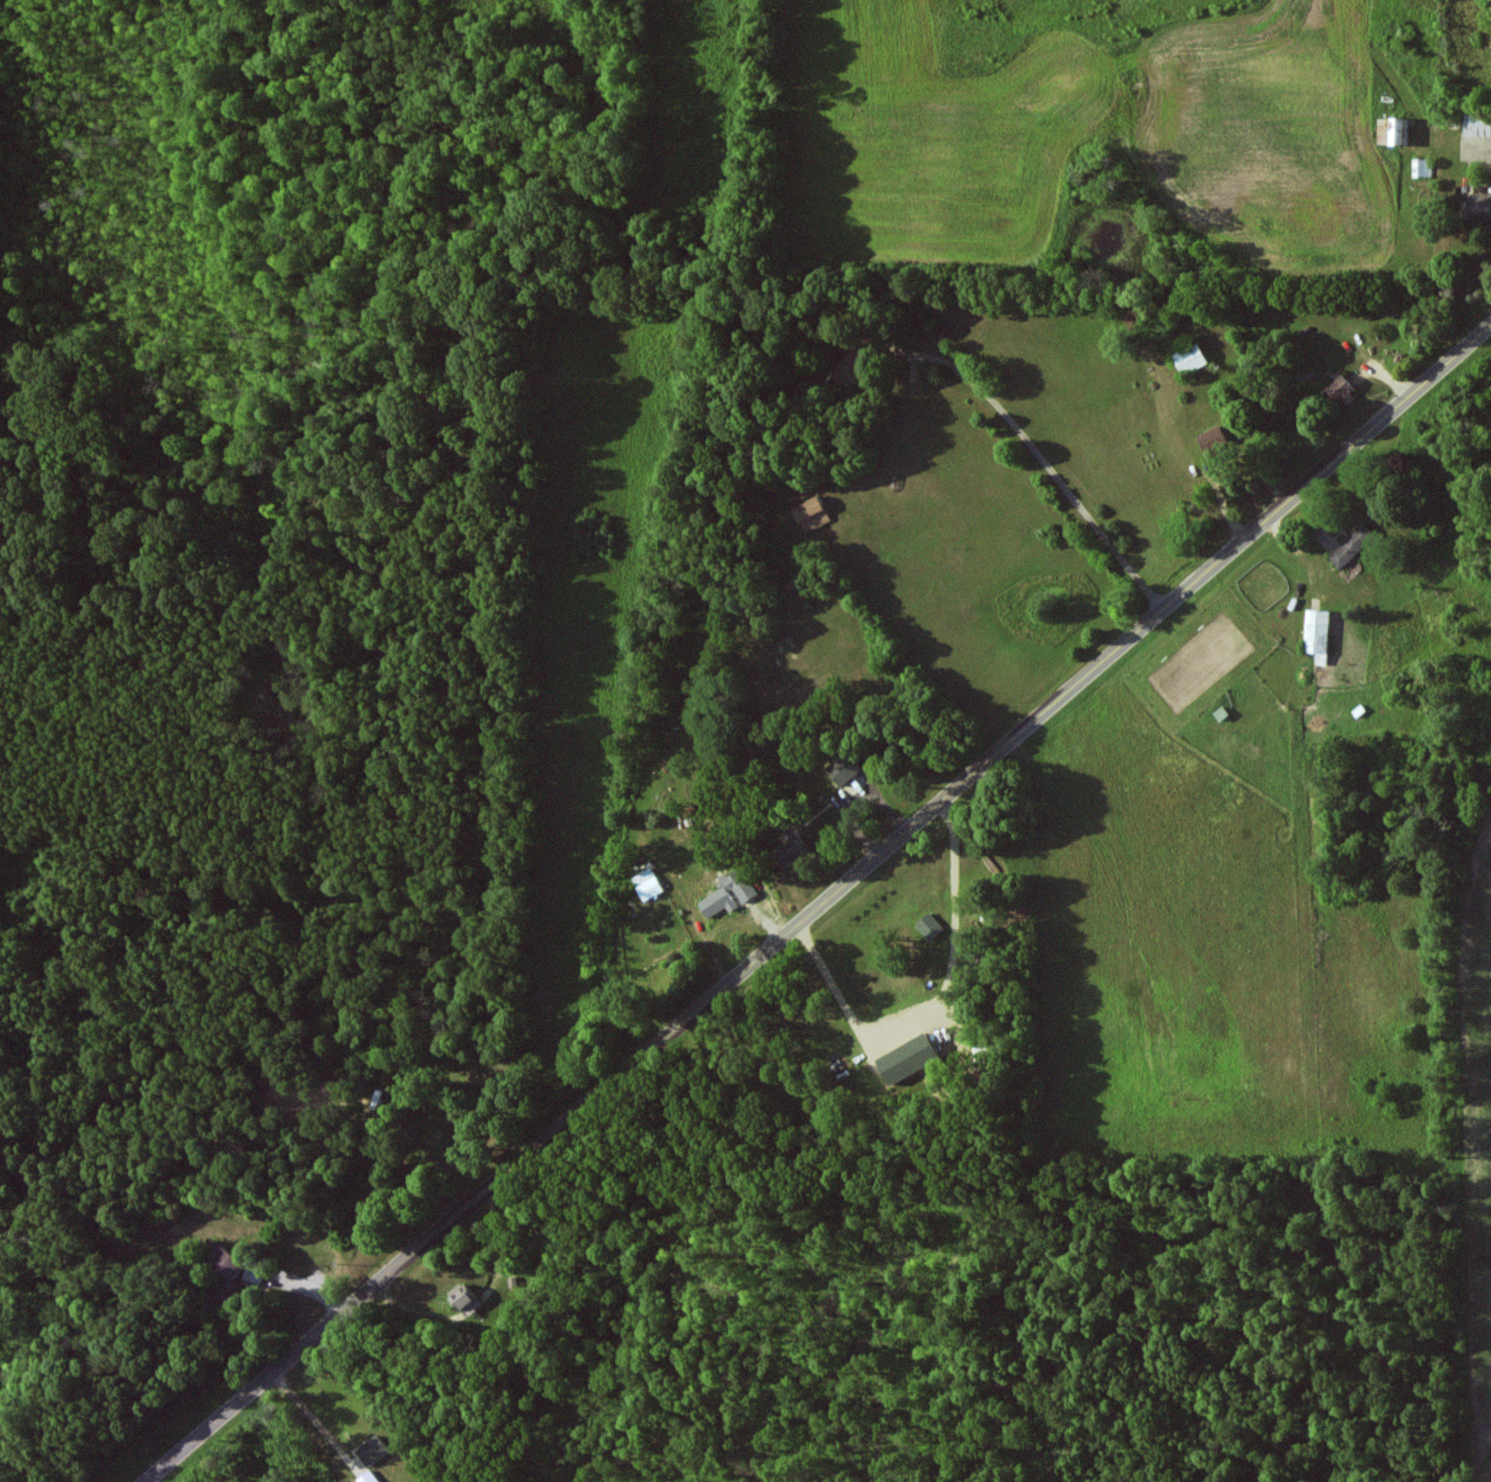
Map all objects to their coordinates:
building: (1478, 126)
building: (1396, 130)
building: (1422, 168)
building: (1477, 207)
building: (1190, 359)
building: (850, 366)
building: (1341, 391)
building: (1214, 441)
road: (1049, 469)
building: (812, 515)
building: (1352, 547)
building: (1318, 635)
building: (843, 769)
building: (792, 847)
building: (646, 884)
building: (727, 894)
road: (821, 906)
building: (929, 926)
road: (937, 1008)
building: (907, 1058)
building: (224, 1275)
building: (253, 1275)
building: (461, 1296)
building: (374, 1450)
building: (369, 1477)

